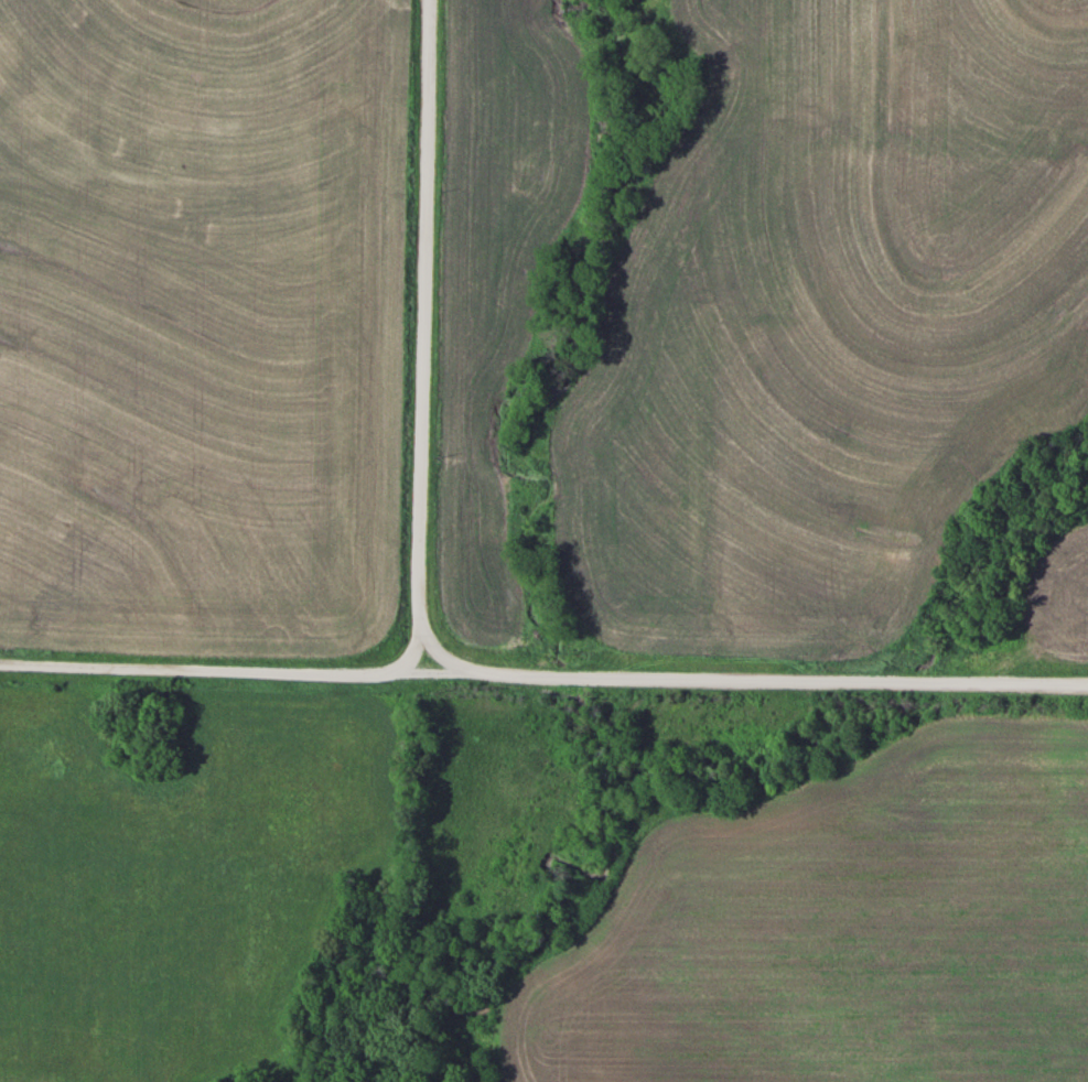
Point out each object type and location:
building: (58, 151)
road: (427, 328)
road: (541, 678)

